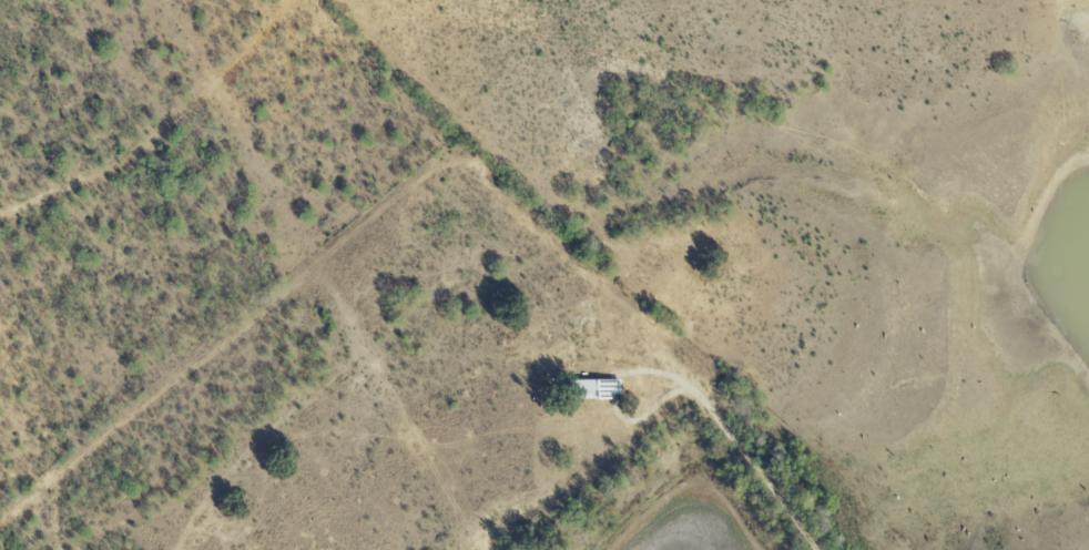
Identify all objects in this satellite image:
building: (599, 388)
road: (732, 428)

